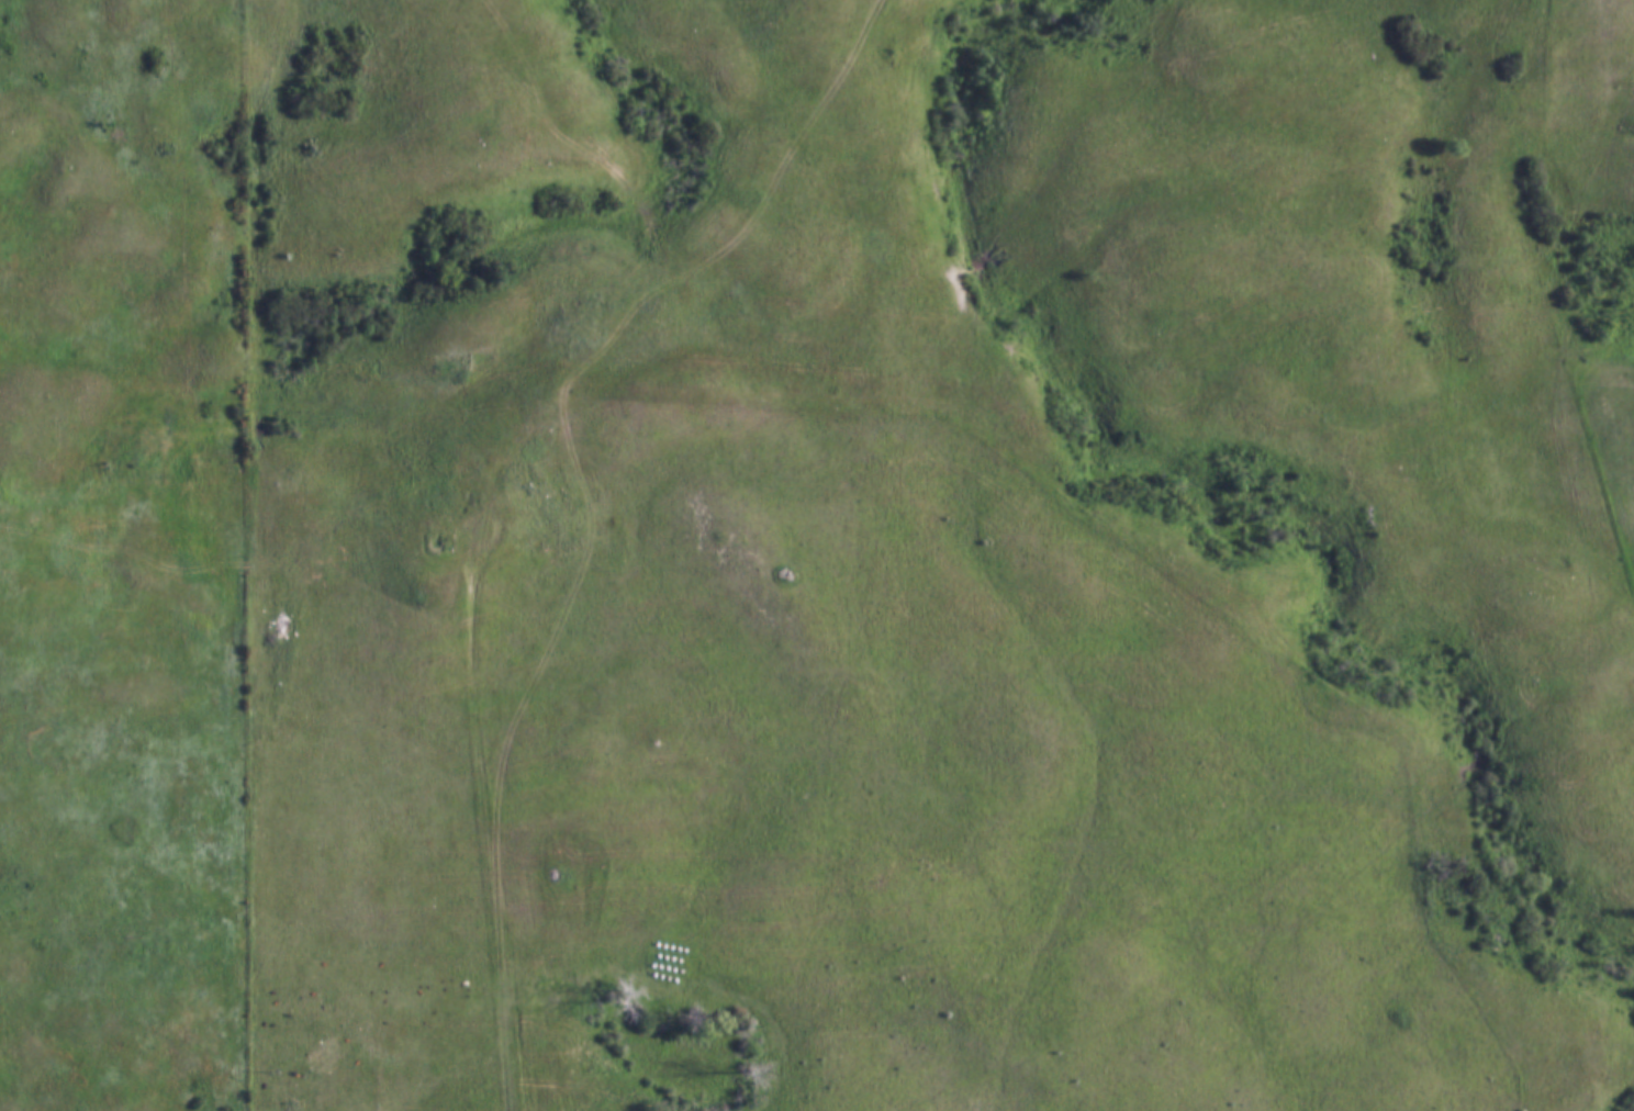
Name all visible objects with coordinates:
road: (384, 1086)

